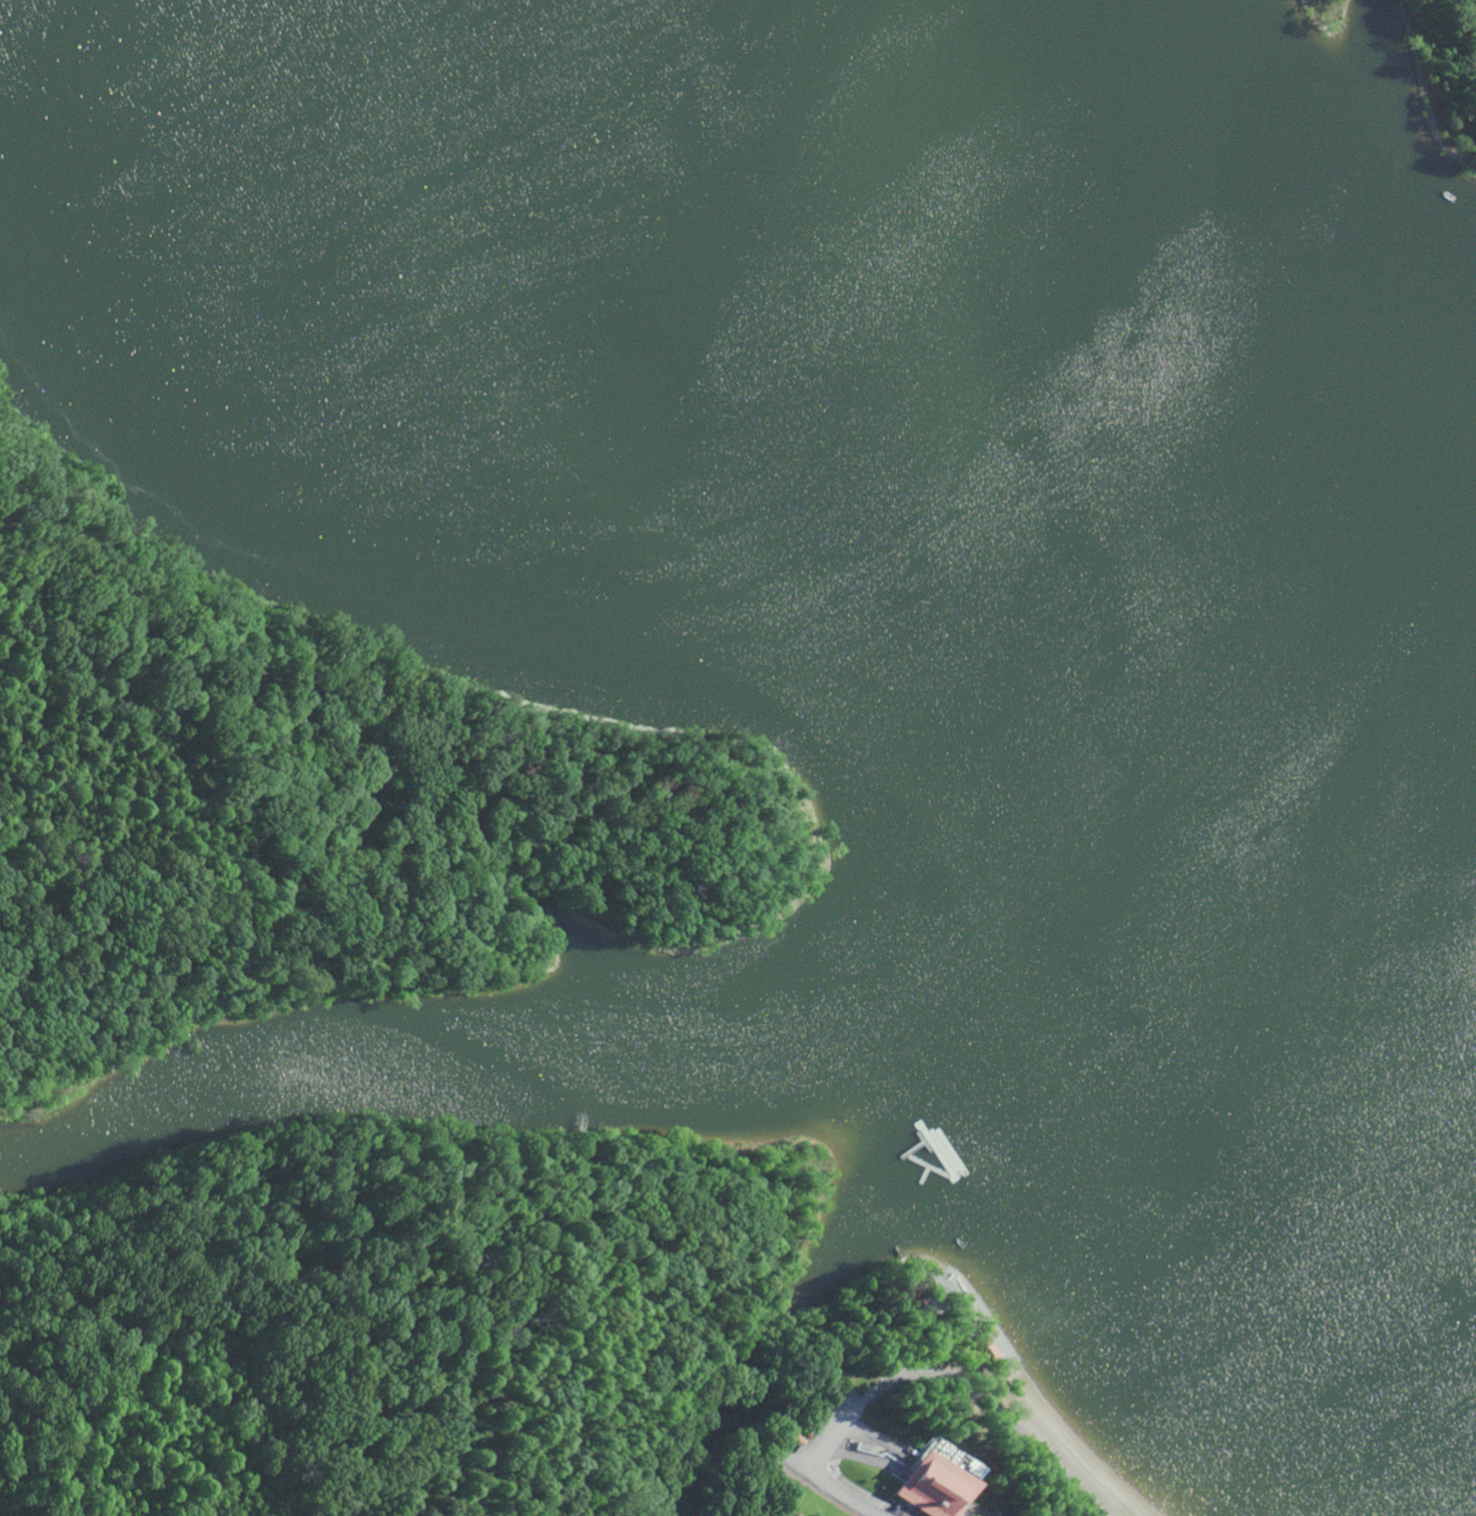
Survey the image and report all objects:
park: (312, 804)
park: (501, 1342)
road: (840, 1486)
building: (931, 1486)
building: (798, 1515)

